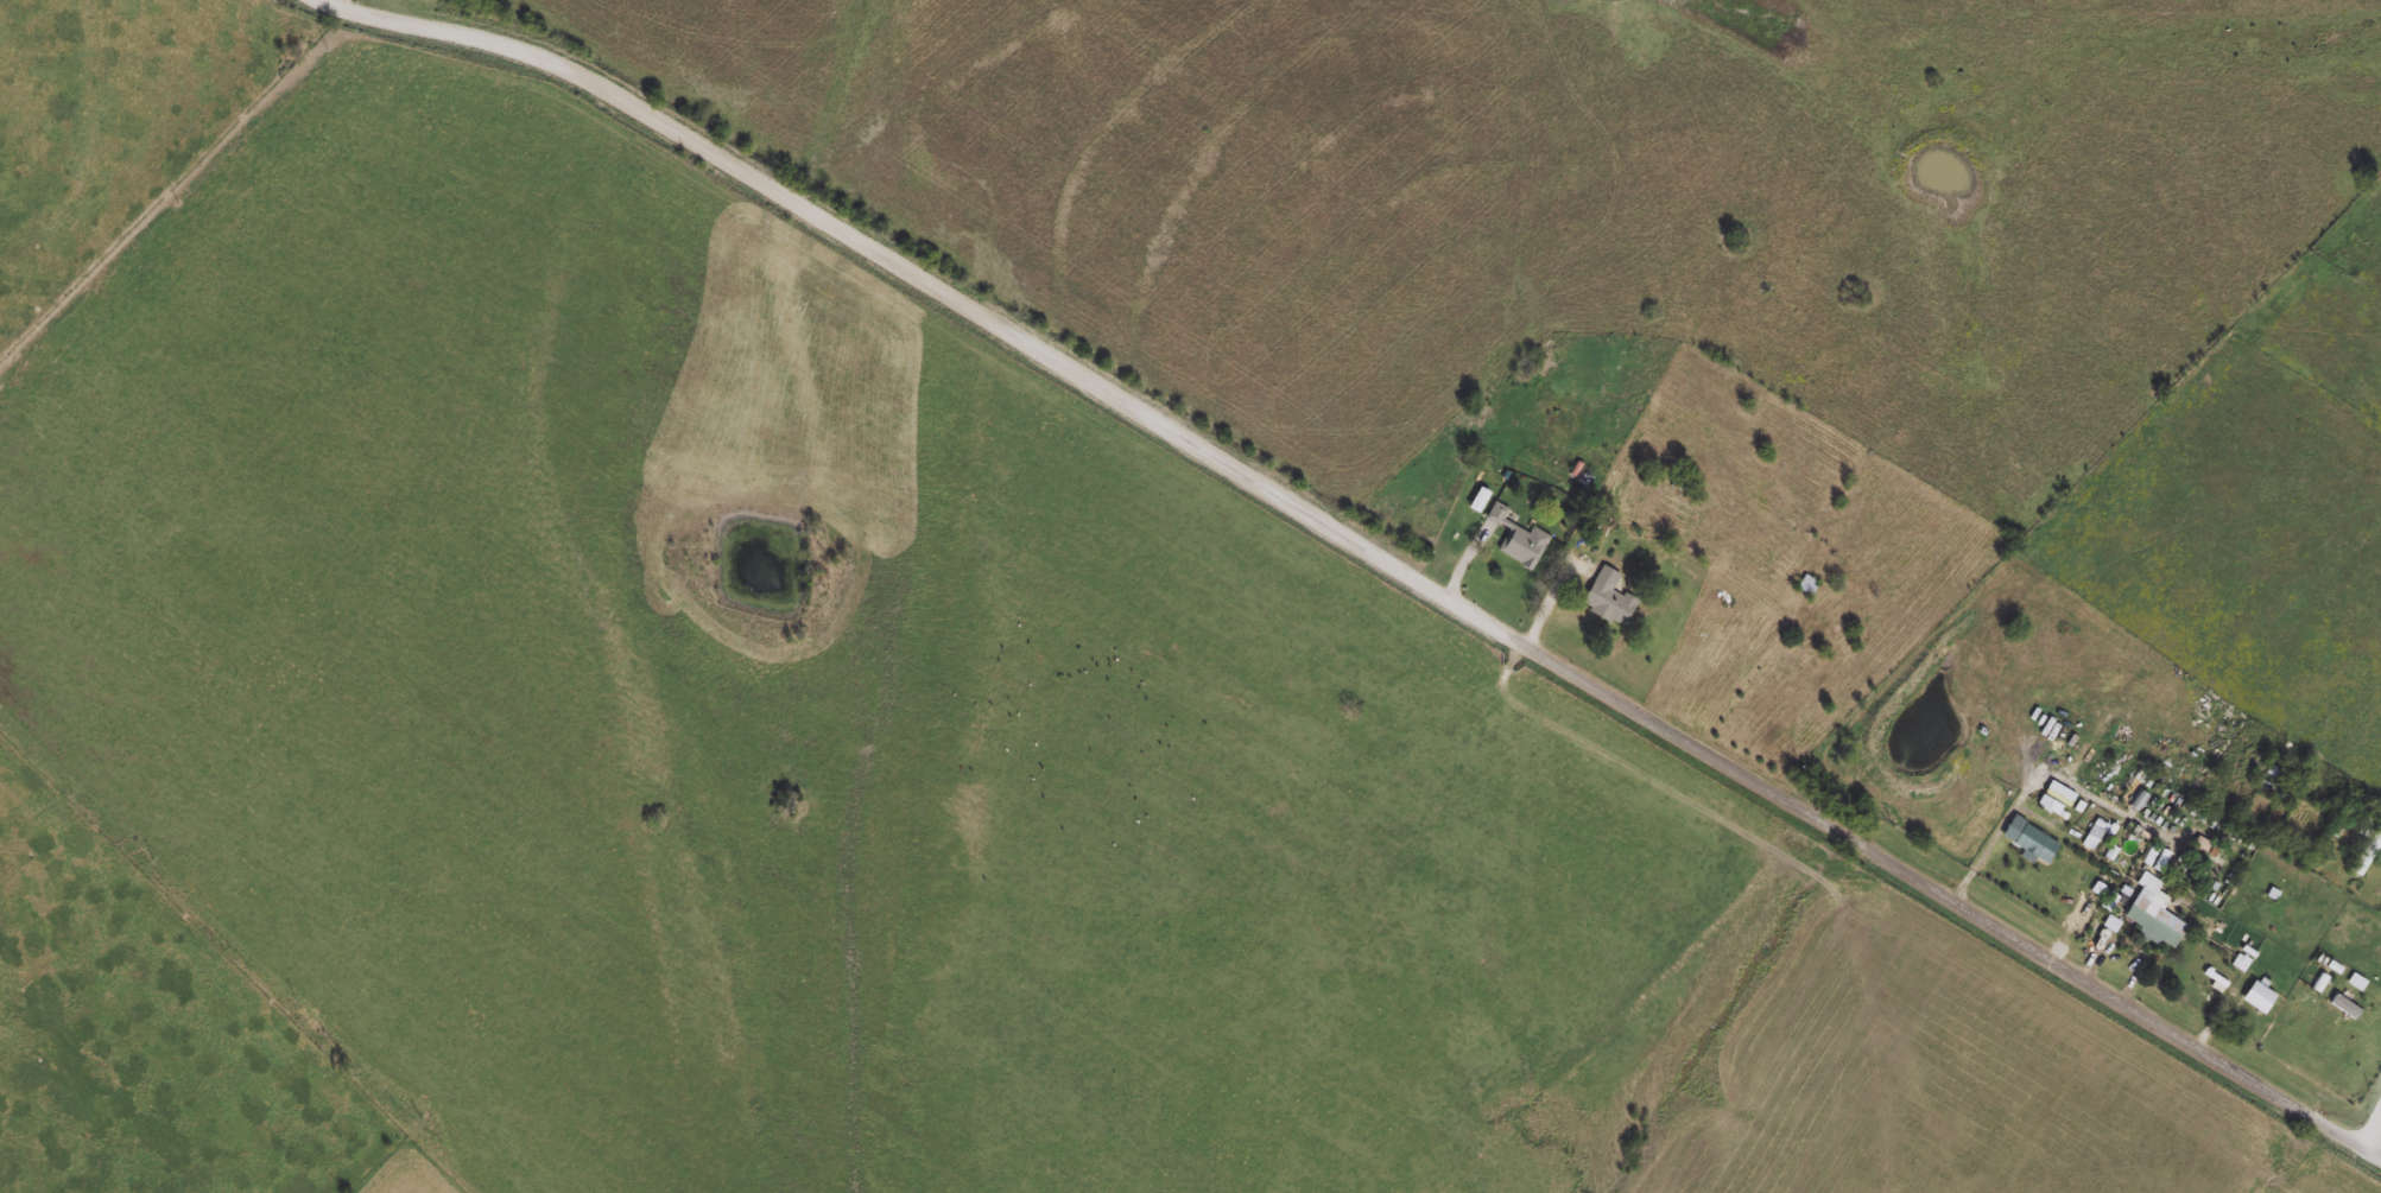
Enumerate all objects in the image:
building: (1518, 539)
road: (1362, 545)
building: (1806, 585)
building: (1609, 598)
building: (2273, 780)
building: (2095, 835)
building: (2031, 839)
building: (2369, 851)
building: (2155, 913)
building: (2345, 1005)
road: (2371, 1136)

